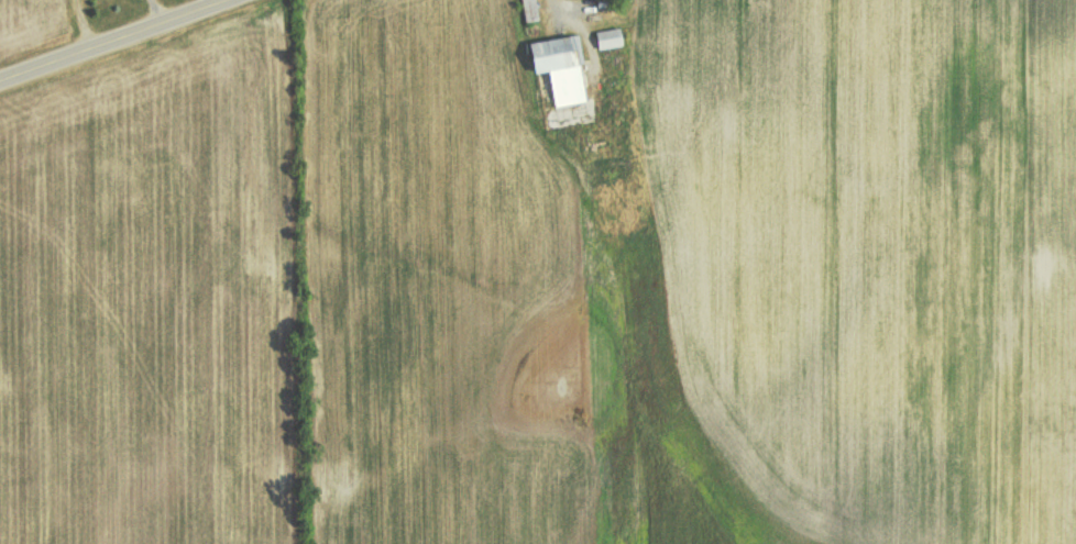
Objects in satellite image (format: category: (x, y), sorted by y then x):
building: (606, 37)
road: (125, 44)
building: (560, 66)
crop: (865, 254)
crop: (450, 285)
crop: (149, 303)

